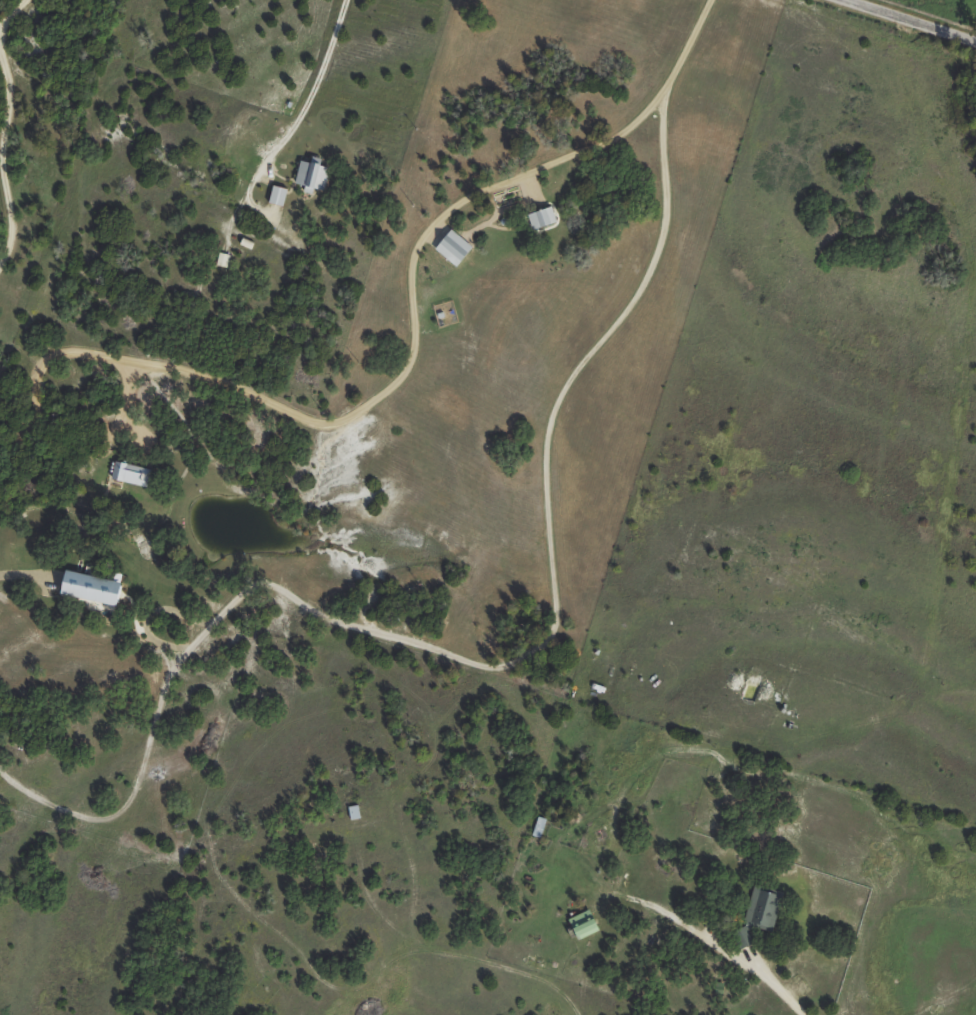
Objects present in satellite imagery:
road: (7, 11)
road: (910, 21)
road: (680, 48)
road: (5, 99)
road: (286, 122)
building: (311, 175)
building: (277, 195)
road: (3, 213)
building: (541, 218)
building: (453, 248)
road: (376, 390)
building: (129, 474)
building: (92, 588)
road: (477, 667)
building: (762, 908)
building: (583, 923)
road: (720, 947)

